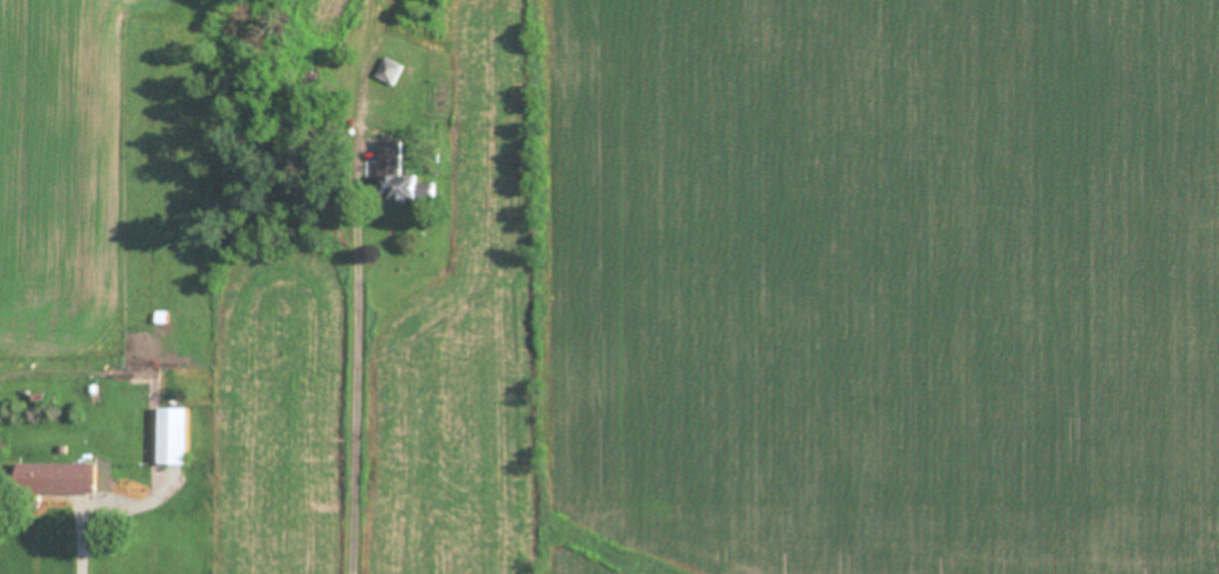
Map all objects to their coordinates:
building: (398, 179)
road: (353, 284)
building: (167, 439)
building: (53, 481)
road: (81, 537)

